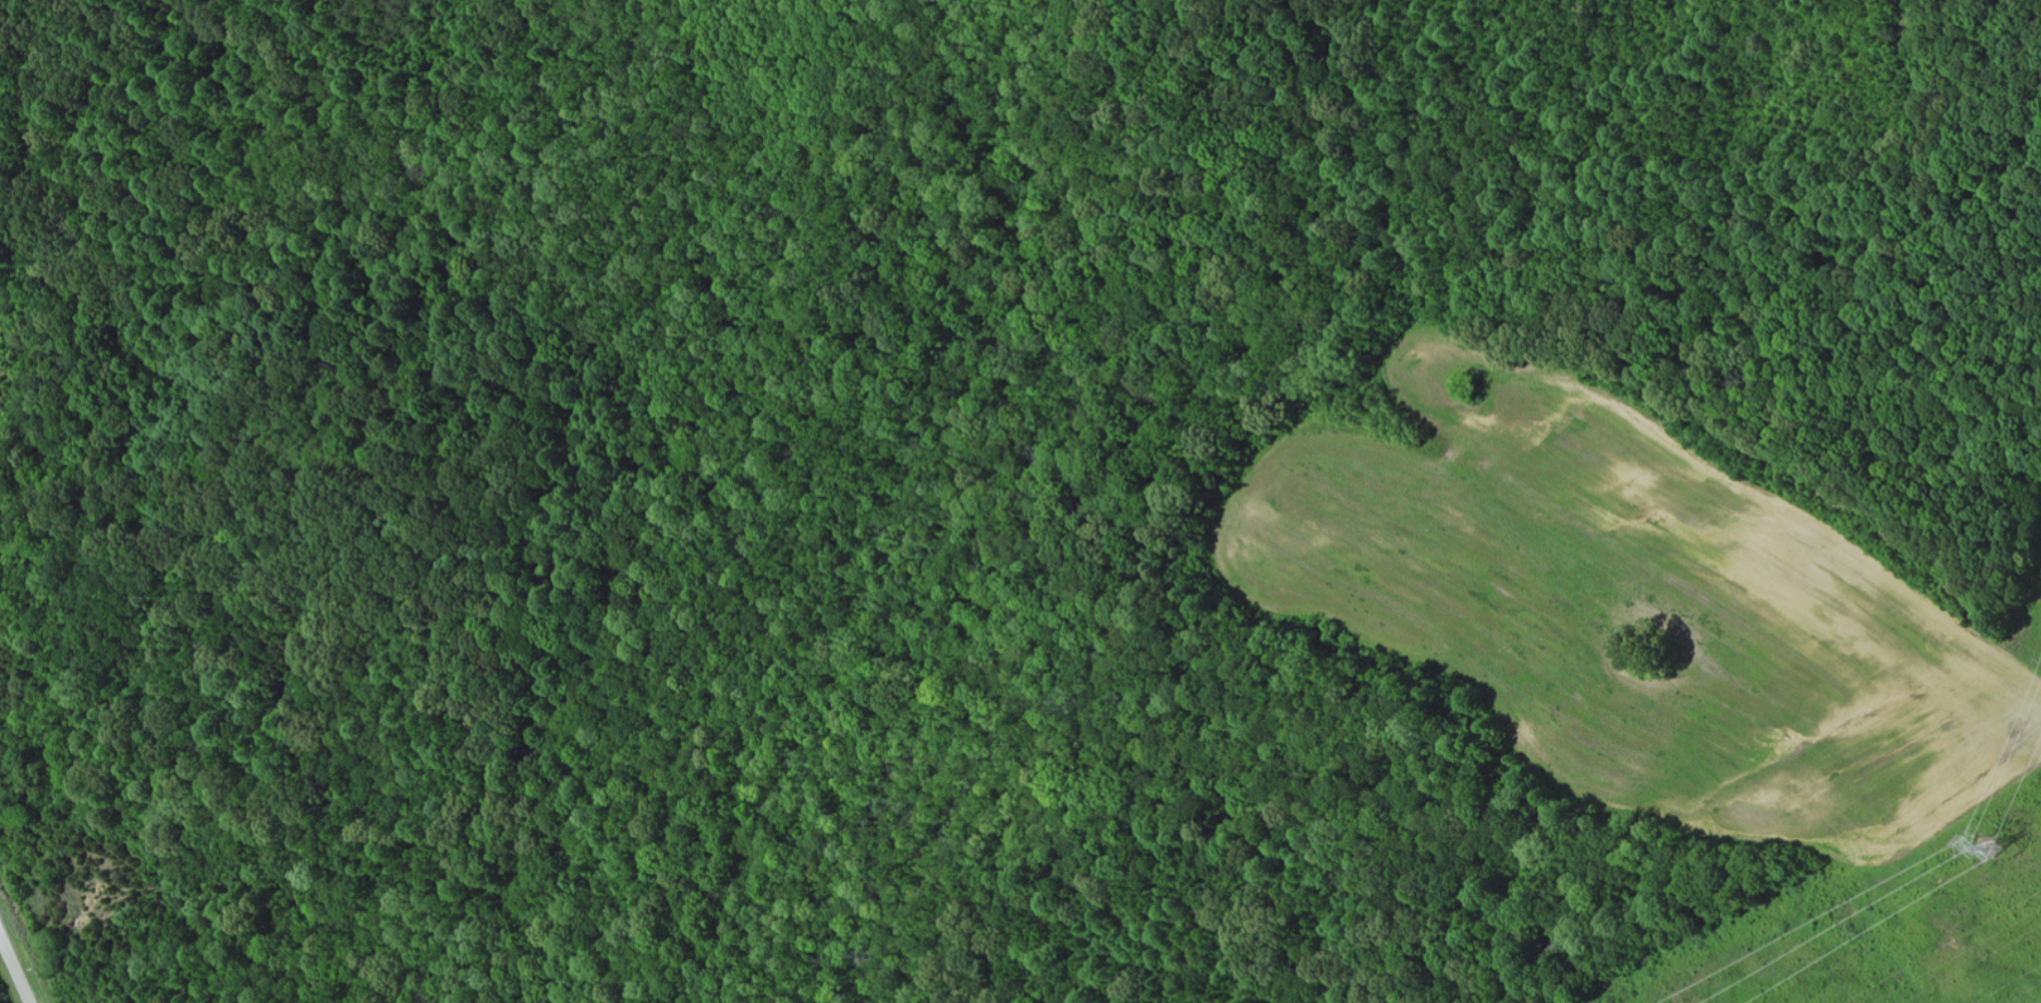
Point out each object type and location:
power tower: (1990, 845)
road: (15, 968)

